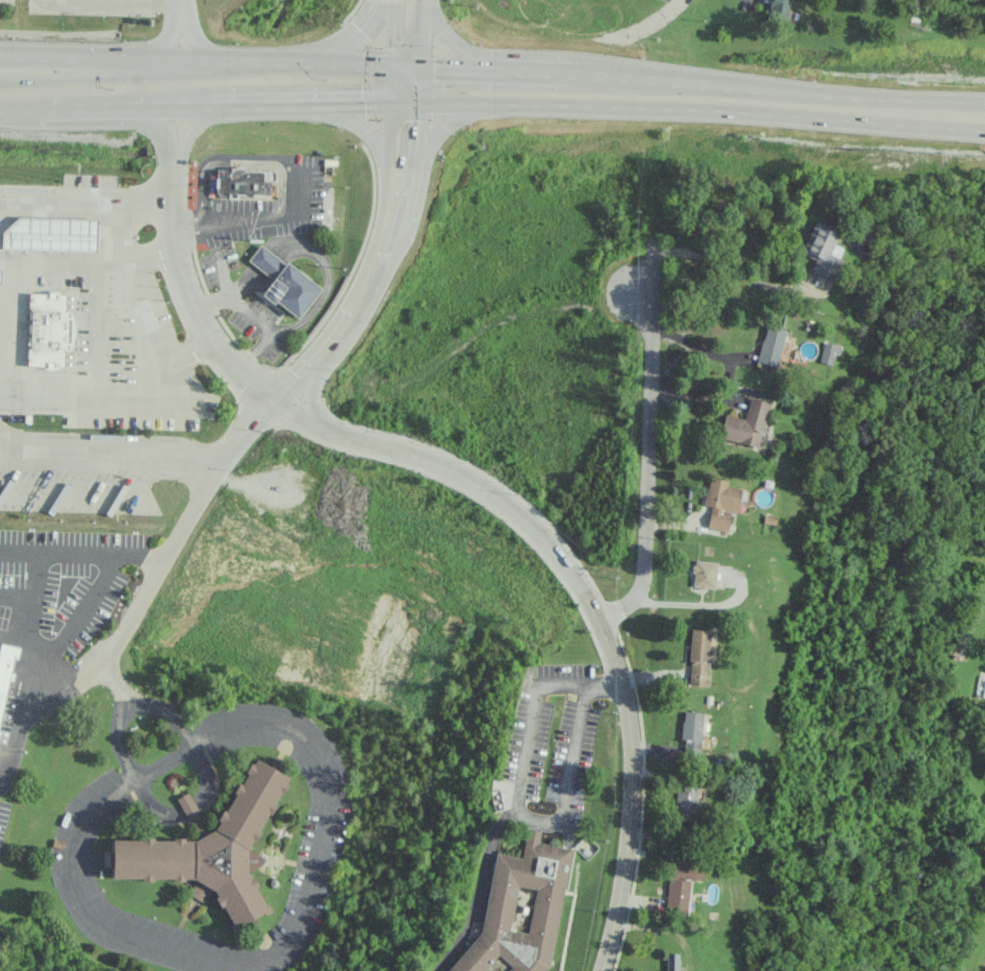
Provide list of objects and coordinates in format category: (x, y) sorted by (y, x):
road: (143, 2)
road: (115, 4)
building: (780, 8)
road: (179, 9)
road: (661, 16)
road: (419, 31)
road: (391, 32)
road: (357, 35)
road: (444, 41)
road: (161, 43)
road: (200, 46)
road: (78, 60)
road: (194, 62)
road: (311, 62)
road: (405, 63)
road: (452, 64)
road: (549, 69)
road: (663, 78)
road: (2, 79)
road: (82, 79)
road: (418, 79)
road: (391, 80)
road: (848, 94)
road: (404, 96)
road: (357, 97)
road: (447, 97)
road: (269, 100)
road: (171, 103)
road: (74, 106)
road: (10, 108)
road: (731, 114)
road: (361, 122)
road: (437, 124)
road: (388, 128)
road: (414, 130)
road: (172, 152)
road: (290, 169)
road: (390, 176)
road: (402, 179)
building: (243, 182)
road: (85, 198)
building: (71, 233)
building: (822, 249)
road: (720, 262)
road: (113, 280)
building: (284, 282)
road: (354, 308)
building: (47, 329)
building: (770, 345)
road: (695, 347)
building: (828, 353)
road: (0, 383)
road: (310, 394)
building: (744, 423)
road: (330, 429)
road: (110, 455)
road: (646, 464)
building: (719, 502)
road: (175, 538)
road: (82, 553)
building: (703, 574)
road: (13, 593)
road: (22, 608)
road: (14, 635)
building: (699, 657)
road: (47, 659)
building: (5, 667)
building: (691, 730)
road: (182, 734)
road: (120, 740)
road: (163, 760)
road: (513, 797)
road: (628, 797)
building: (684, 804)
building: (212, 849)
building: (681, 881)
road: (475, 890)
building: (518, 910)
building: (671, 961)

